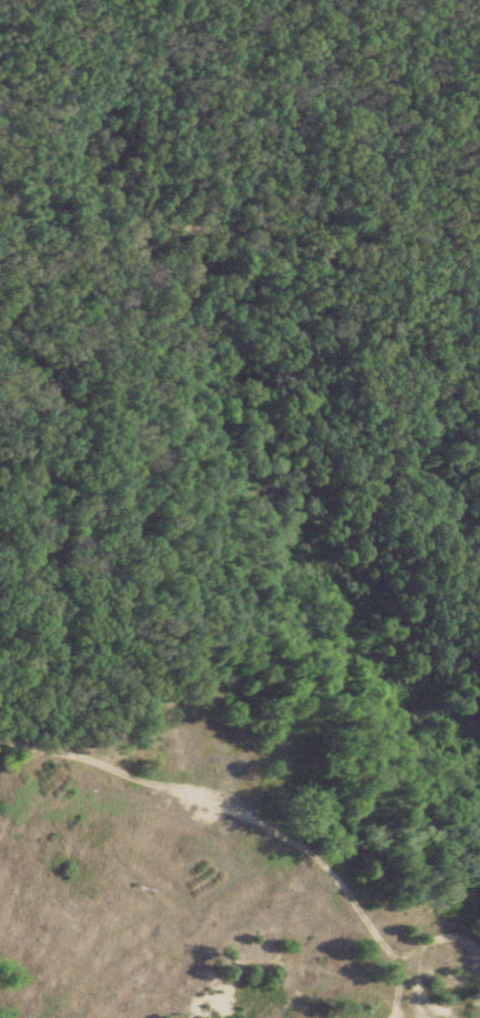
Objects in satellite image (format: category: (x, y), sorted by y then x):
road: (233, 225)

